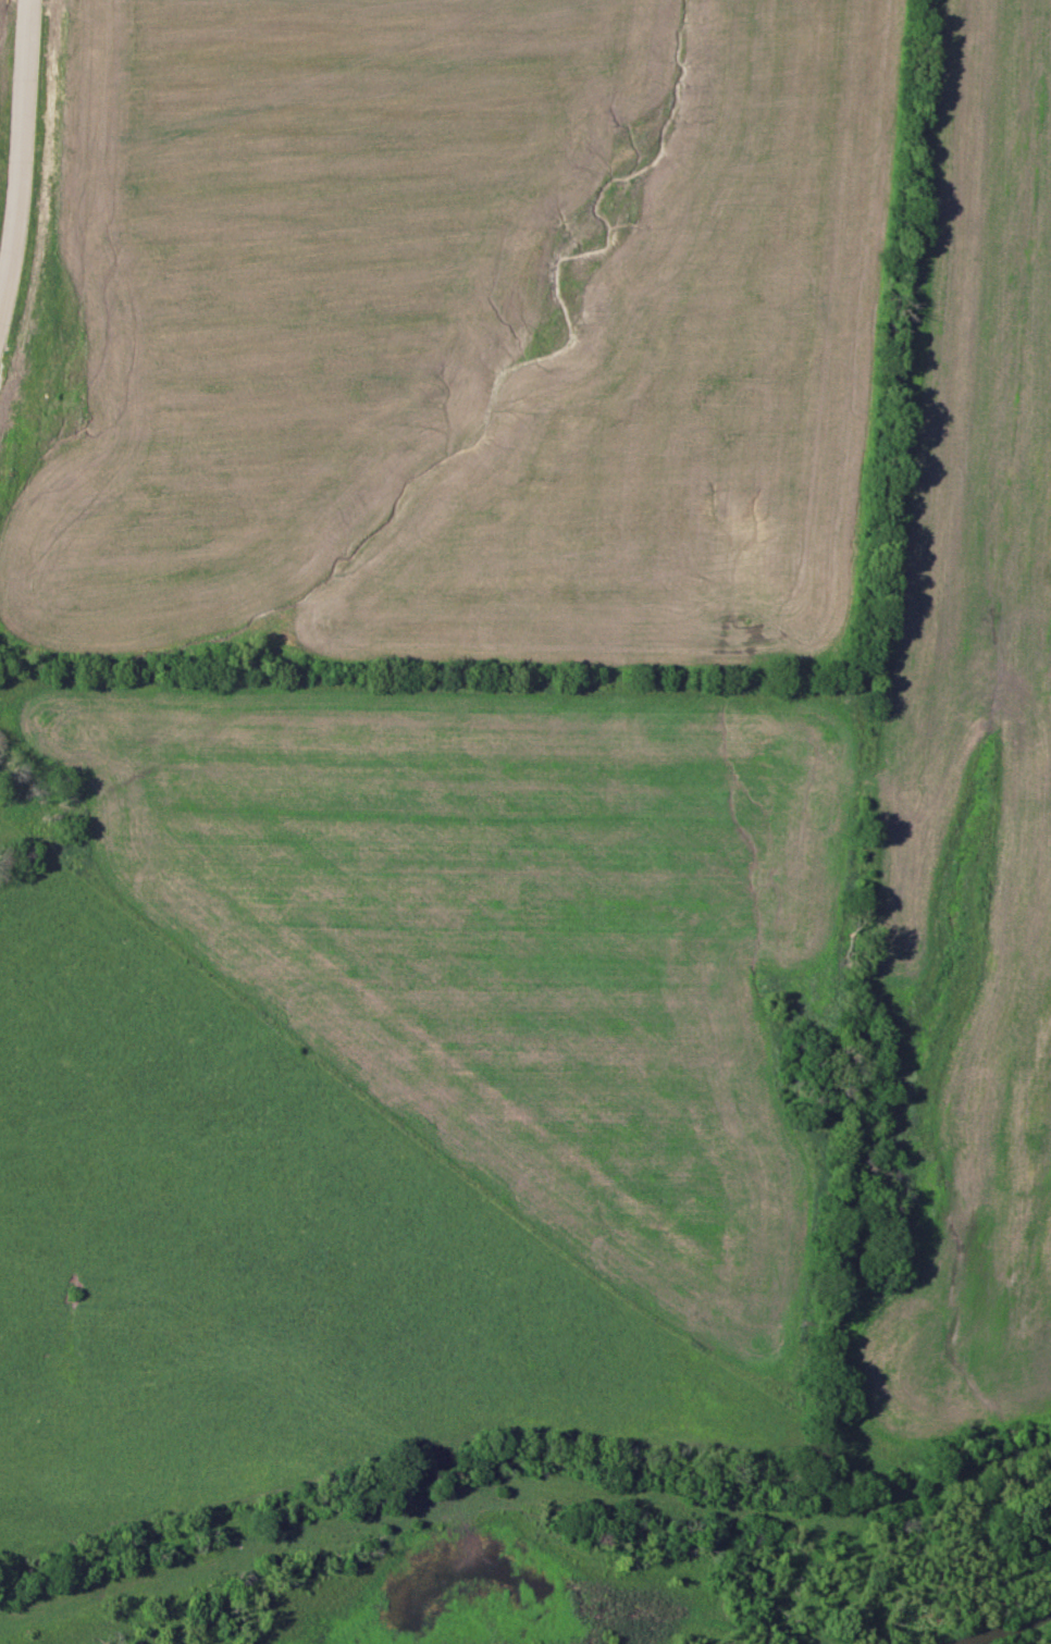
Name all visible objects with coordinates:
road: (22, 153)

